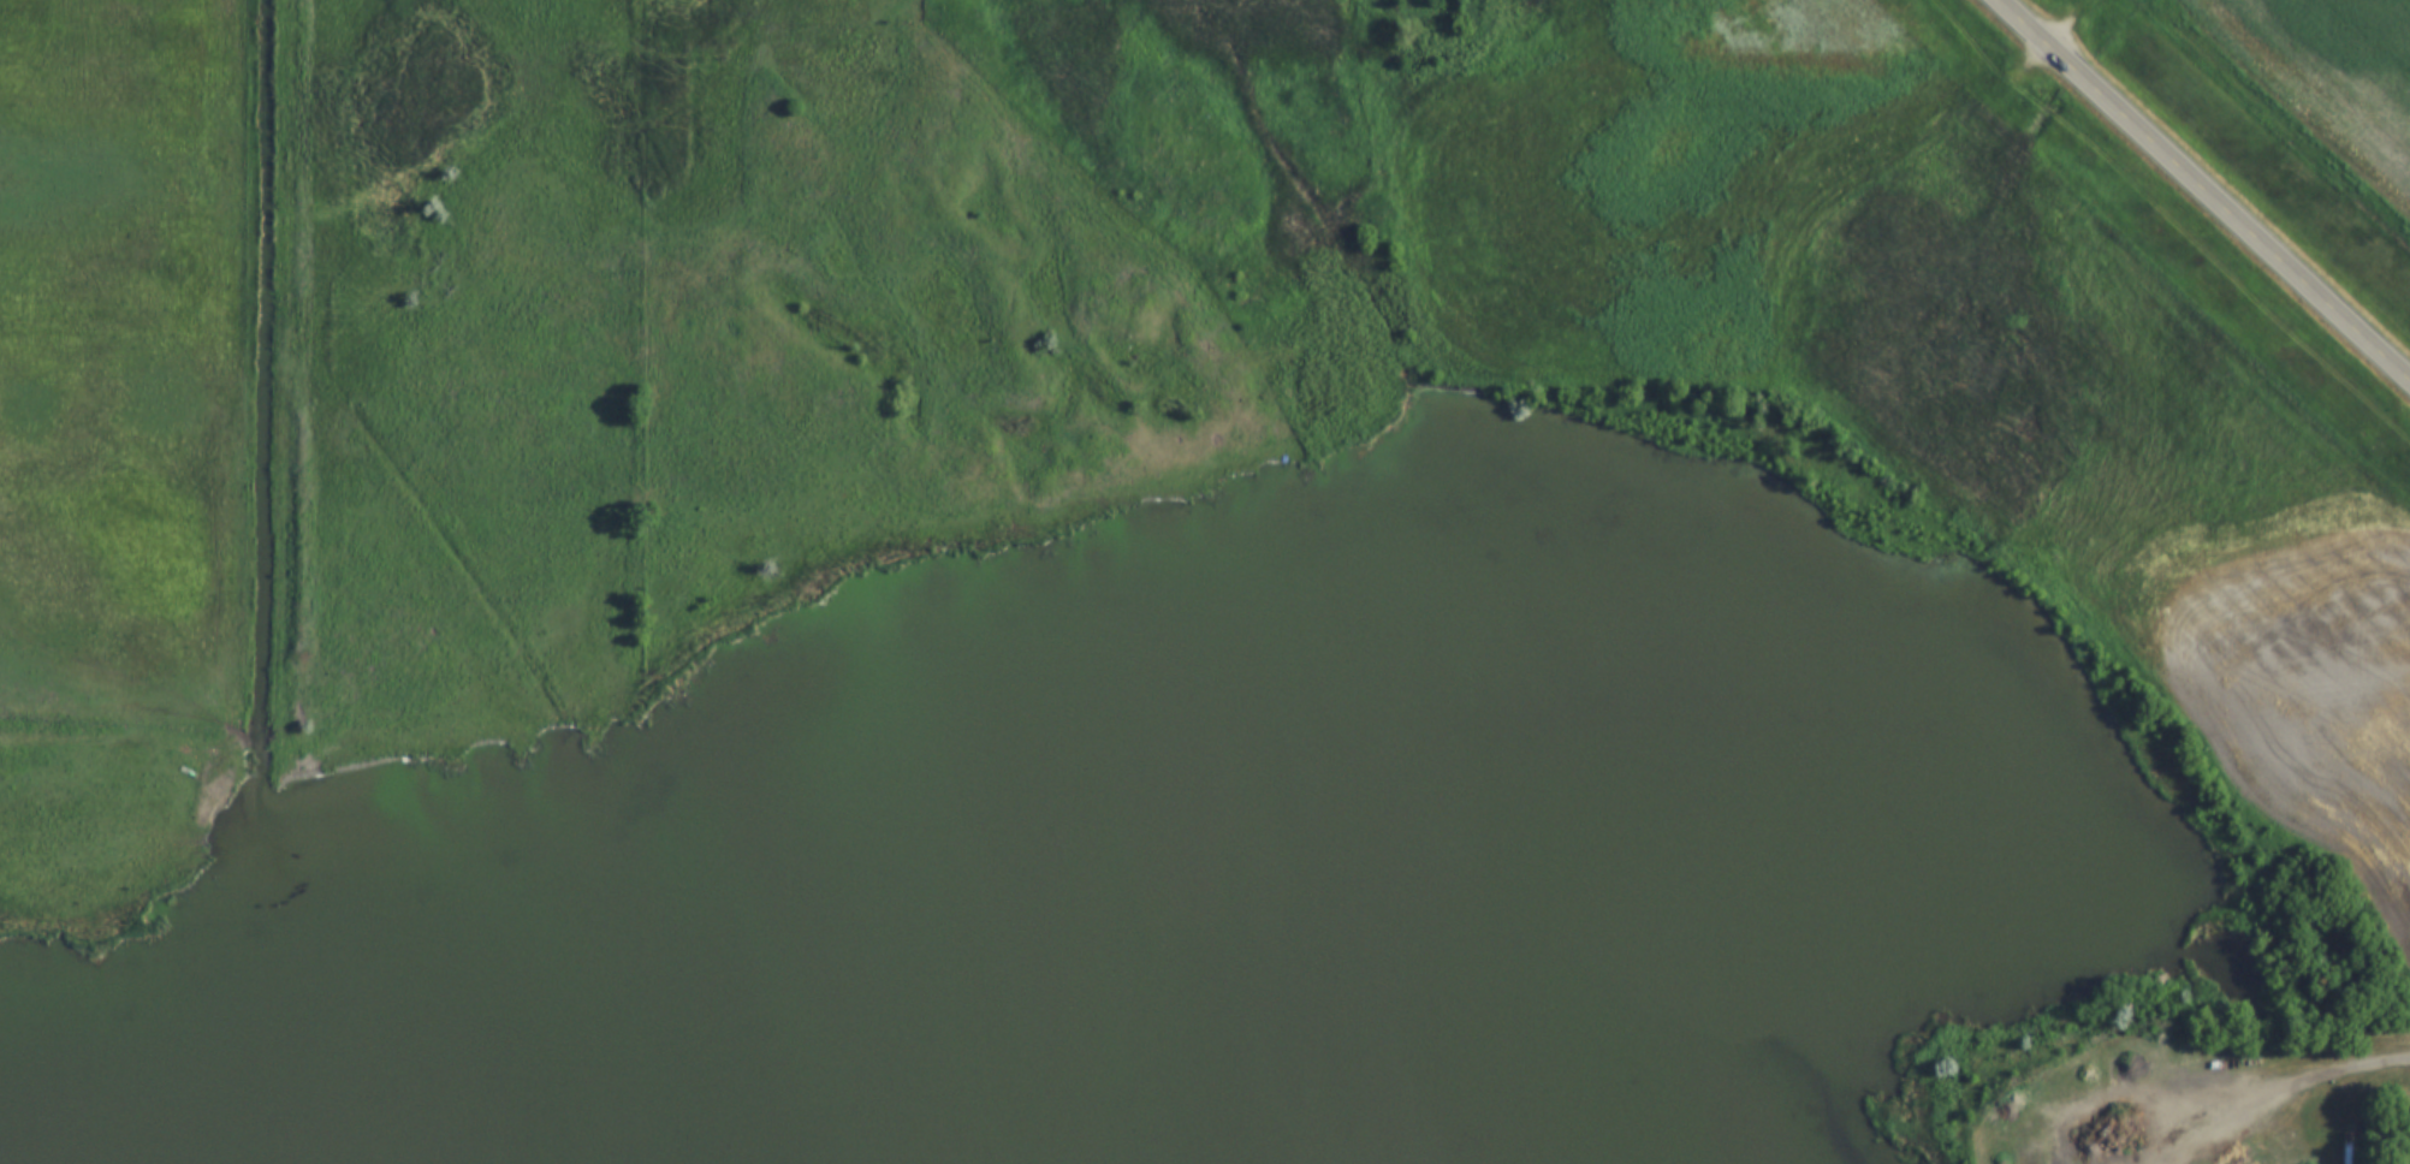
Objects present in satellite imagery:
road: (2206, 189)
road: (2364, 1069)

